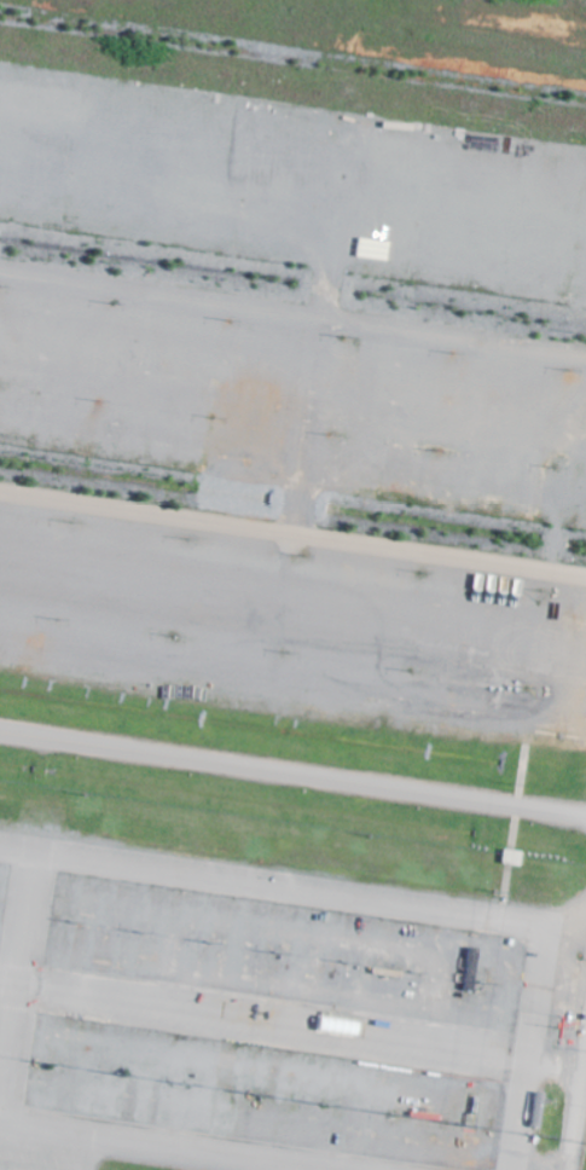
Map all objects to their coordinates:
road: (292, 307)
road: (292, 533)
road: (292, 772)
road: (389, 904)
road: (17, 984)
road: (291, 1023)
building: (336, 1025)
road: (576, 1110)
road: (159, 1147)
road: (540, 1164)

